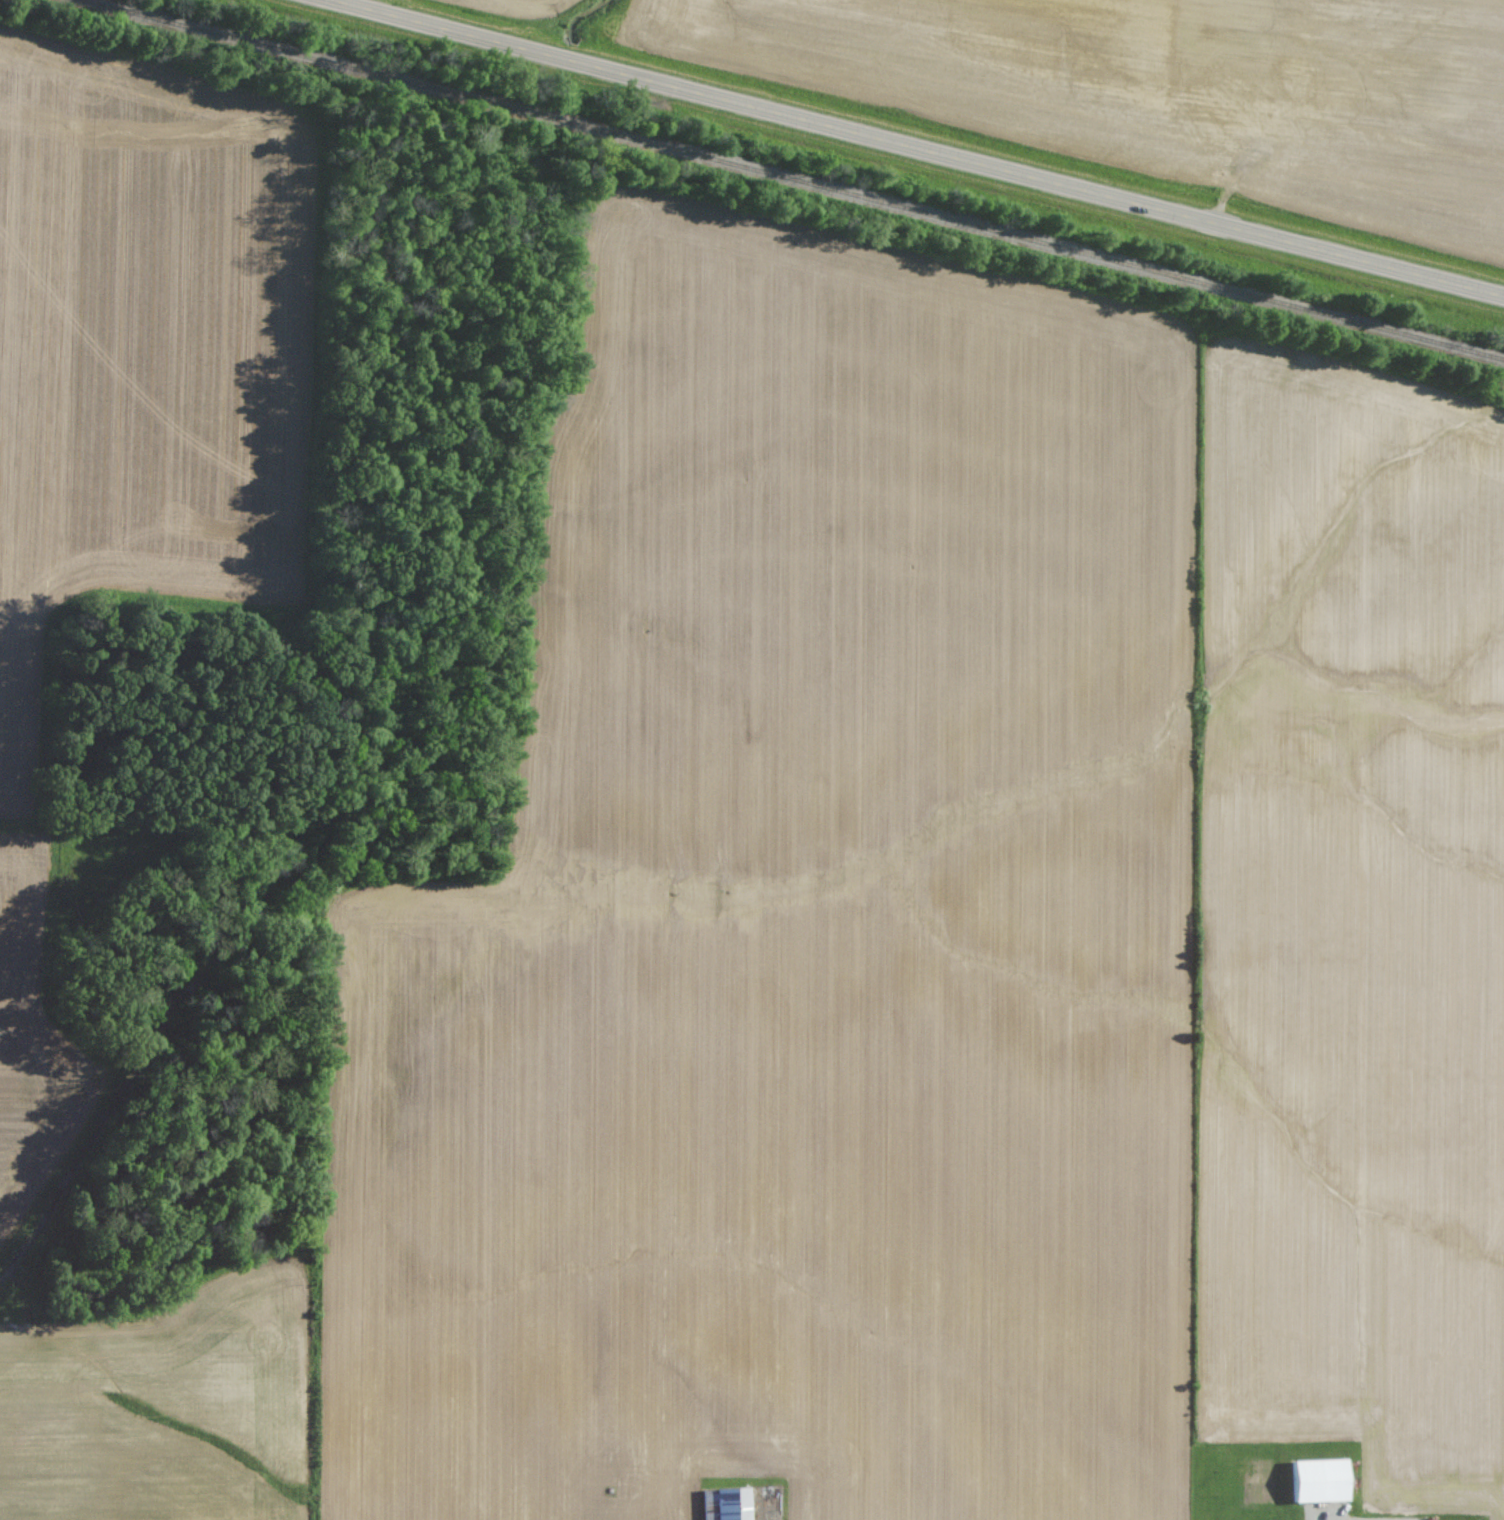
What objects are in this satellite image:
road: (912, 150)
railway: (787, 182)
building: (1324, 1481)
building: (730, 1504)

